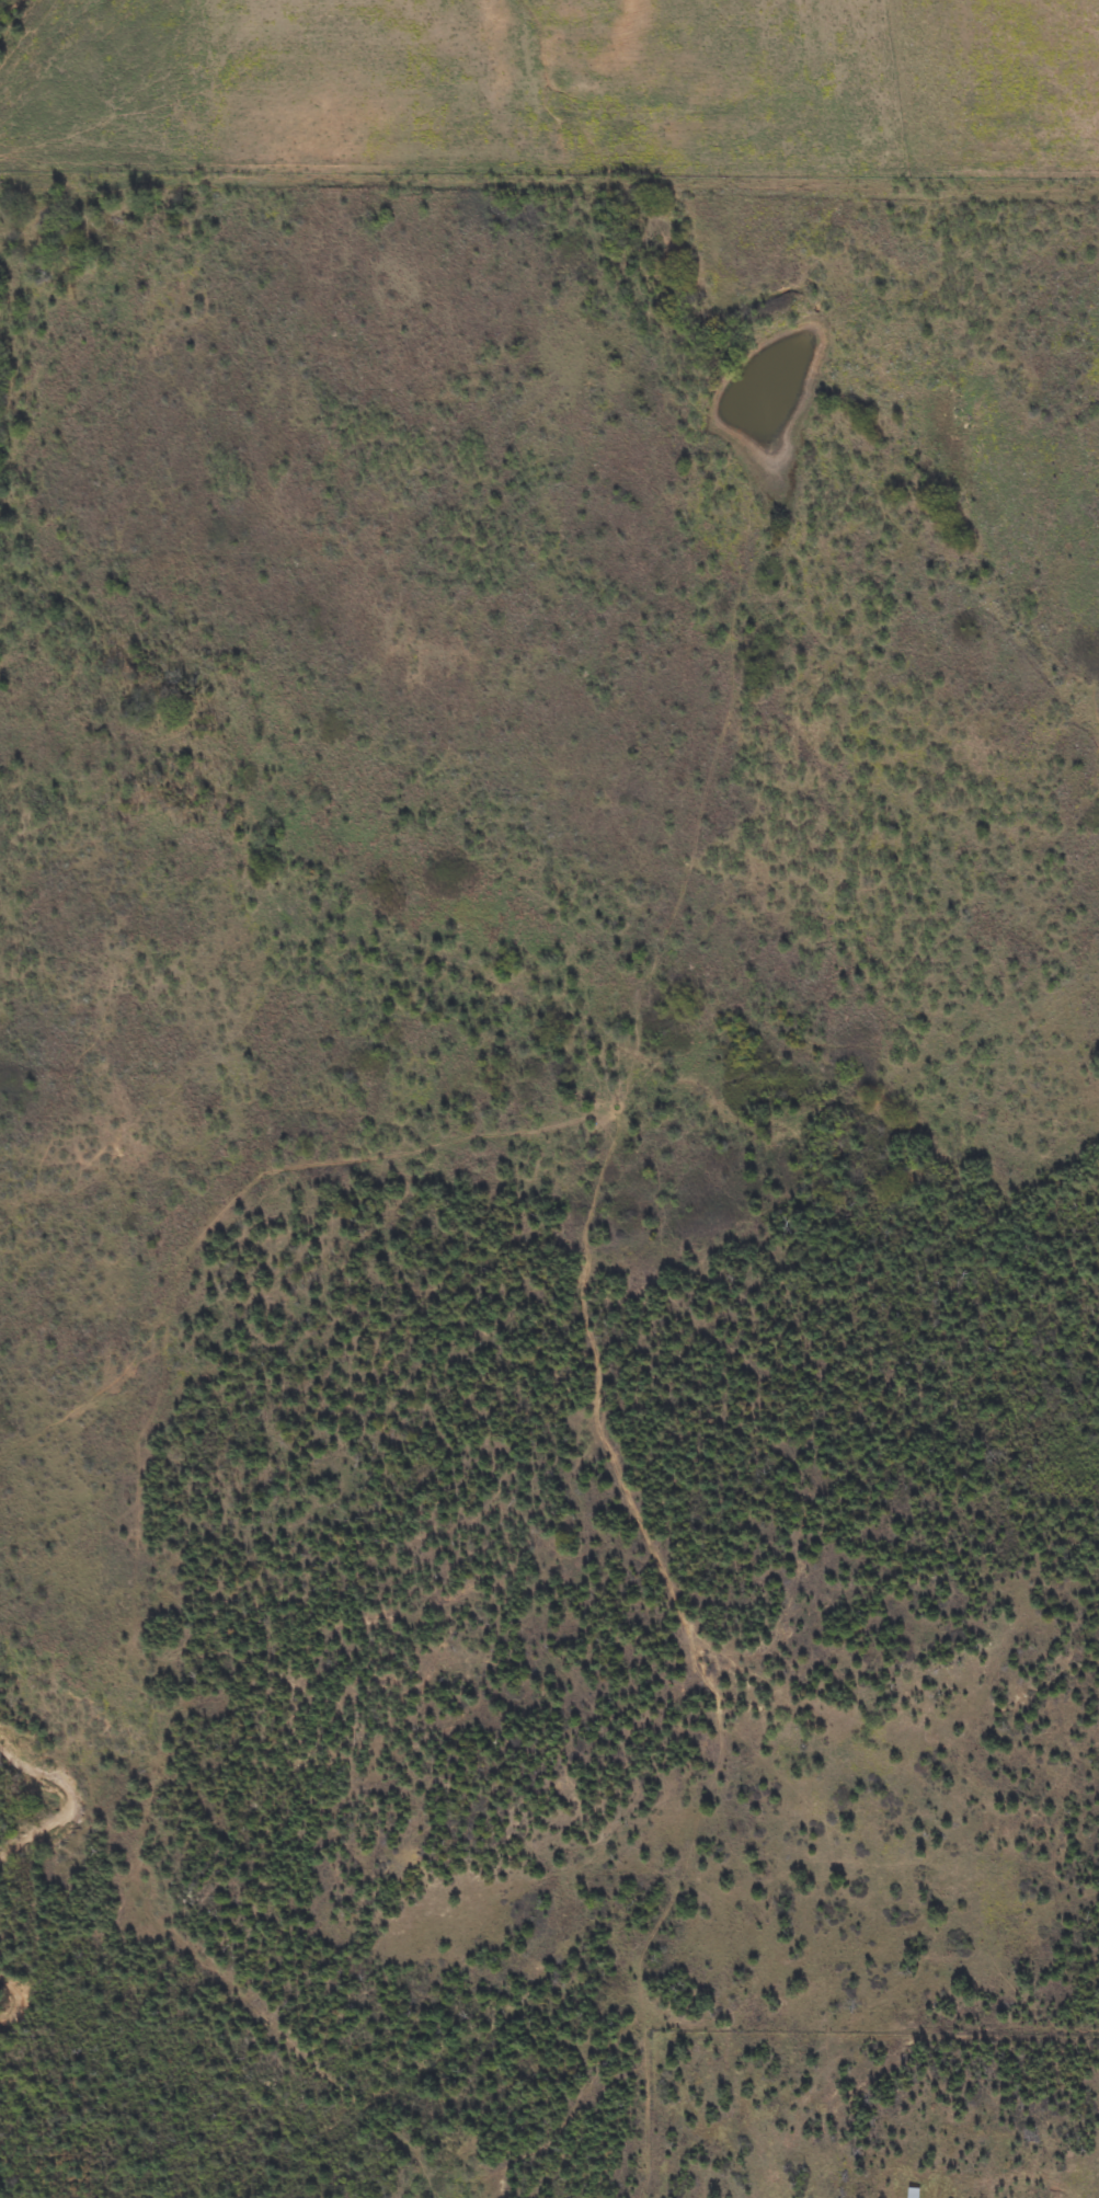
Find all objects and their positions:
building: (914, 2193)

